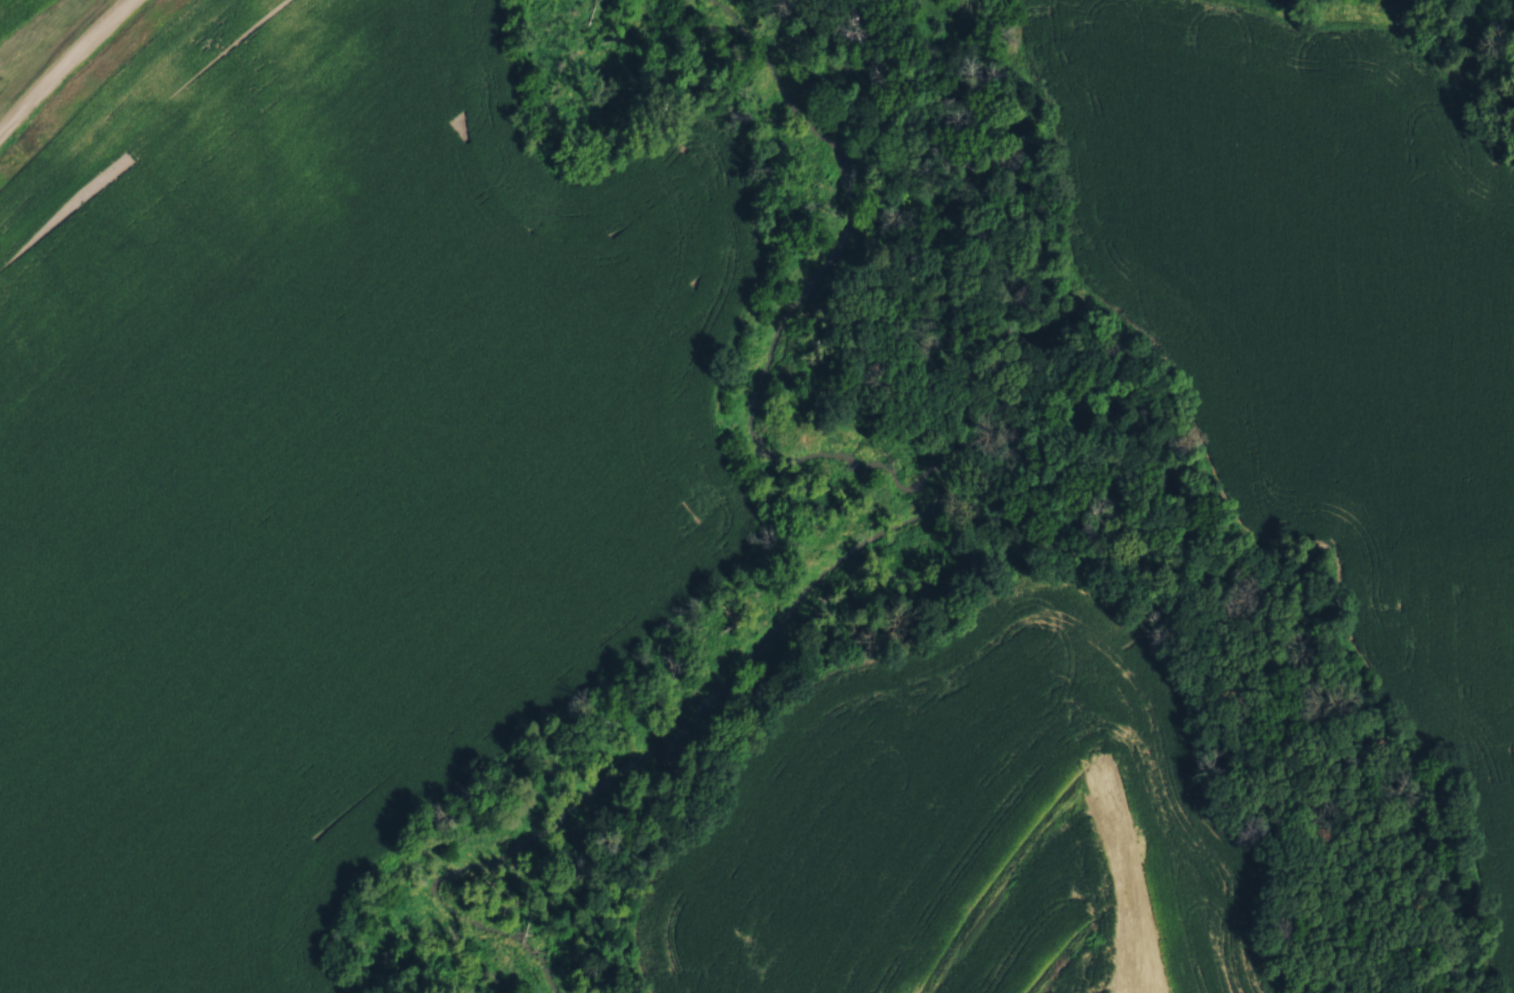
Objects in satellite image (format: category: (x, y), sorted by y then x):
road: (65, 65)

